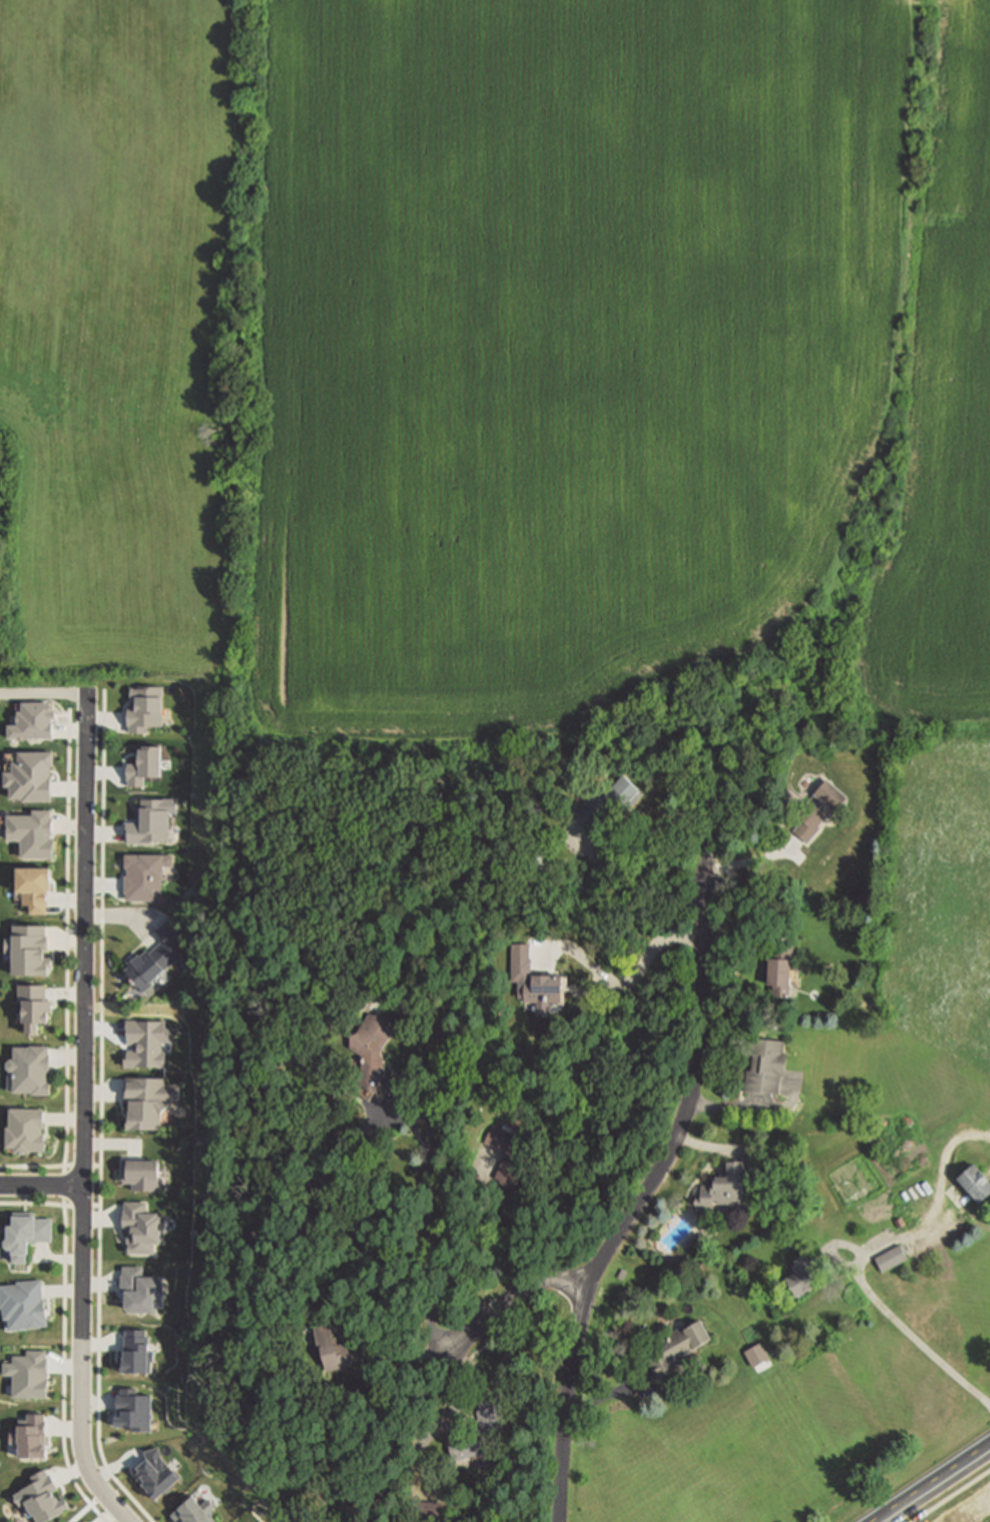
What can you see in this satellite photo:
crop: (503, 364)
road: (43, 695)
building: (145, 709)
building: (35, 722)
building: (145, 768)
building: (608, 799)
building: (819, 809)
building: (151, 823)
road: (661, 825)
building: (34, 835)
building: (546, 860)
building: (145, 878)
building: (36, 890)
building: (30, 950)
road: (68, 951)
building: (157, 953)
building: (783, 968)
road: (633, 978)
building: (32, 1007)
road: (101, 1015)
building: (372, 1050)
building: (766, 1065)
building: (28, 1070)
building: (149, 1103)
road: (84, 1113)
building: (22, 1131)
building: (367, 1136)
building: (511, 1152)
road: (426, 1164)
road: (50, 1166)
building: (141, 1177)
building: (975, 1181)
road: (41, 1184)
building: (724, 1186)
road: (642, 1194)
road: (41, 1204)
road: (91, 1206)
building: (878, 1208)
building: (900, 1222)
building: (142, 1229)
building: (29, 1235)
road: (469, 1241)
road: (862, 1256)
building: (891, 1258)
road: (65, 1262)
building: (623, 1272)
building: (804, 1276)
building: (141, 1292)
road: (511, 1296)
building: (23, 1304)
building: (675, 1345)
building: (332, 1347)
building: (479, 1431)
road: (63, 1437)
road: (97, 1440)
road: (928, 1482)
road: (952, 1497)
road: (87, 1507)
park: (8, 1510)
building: (428, 1511)

